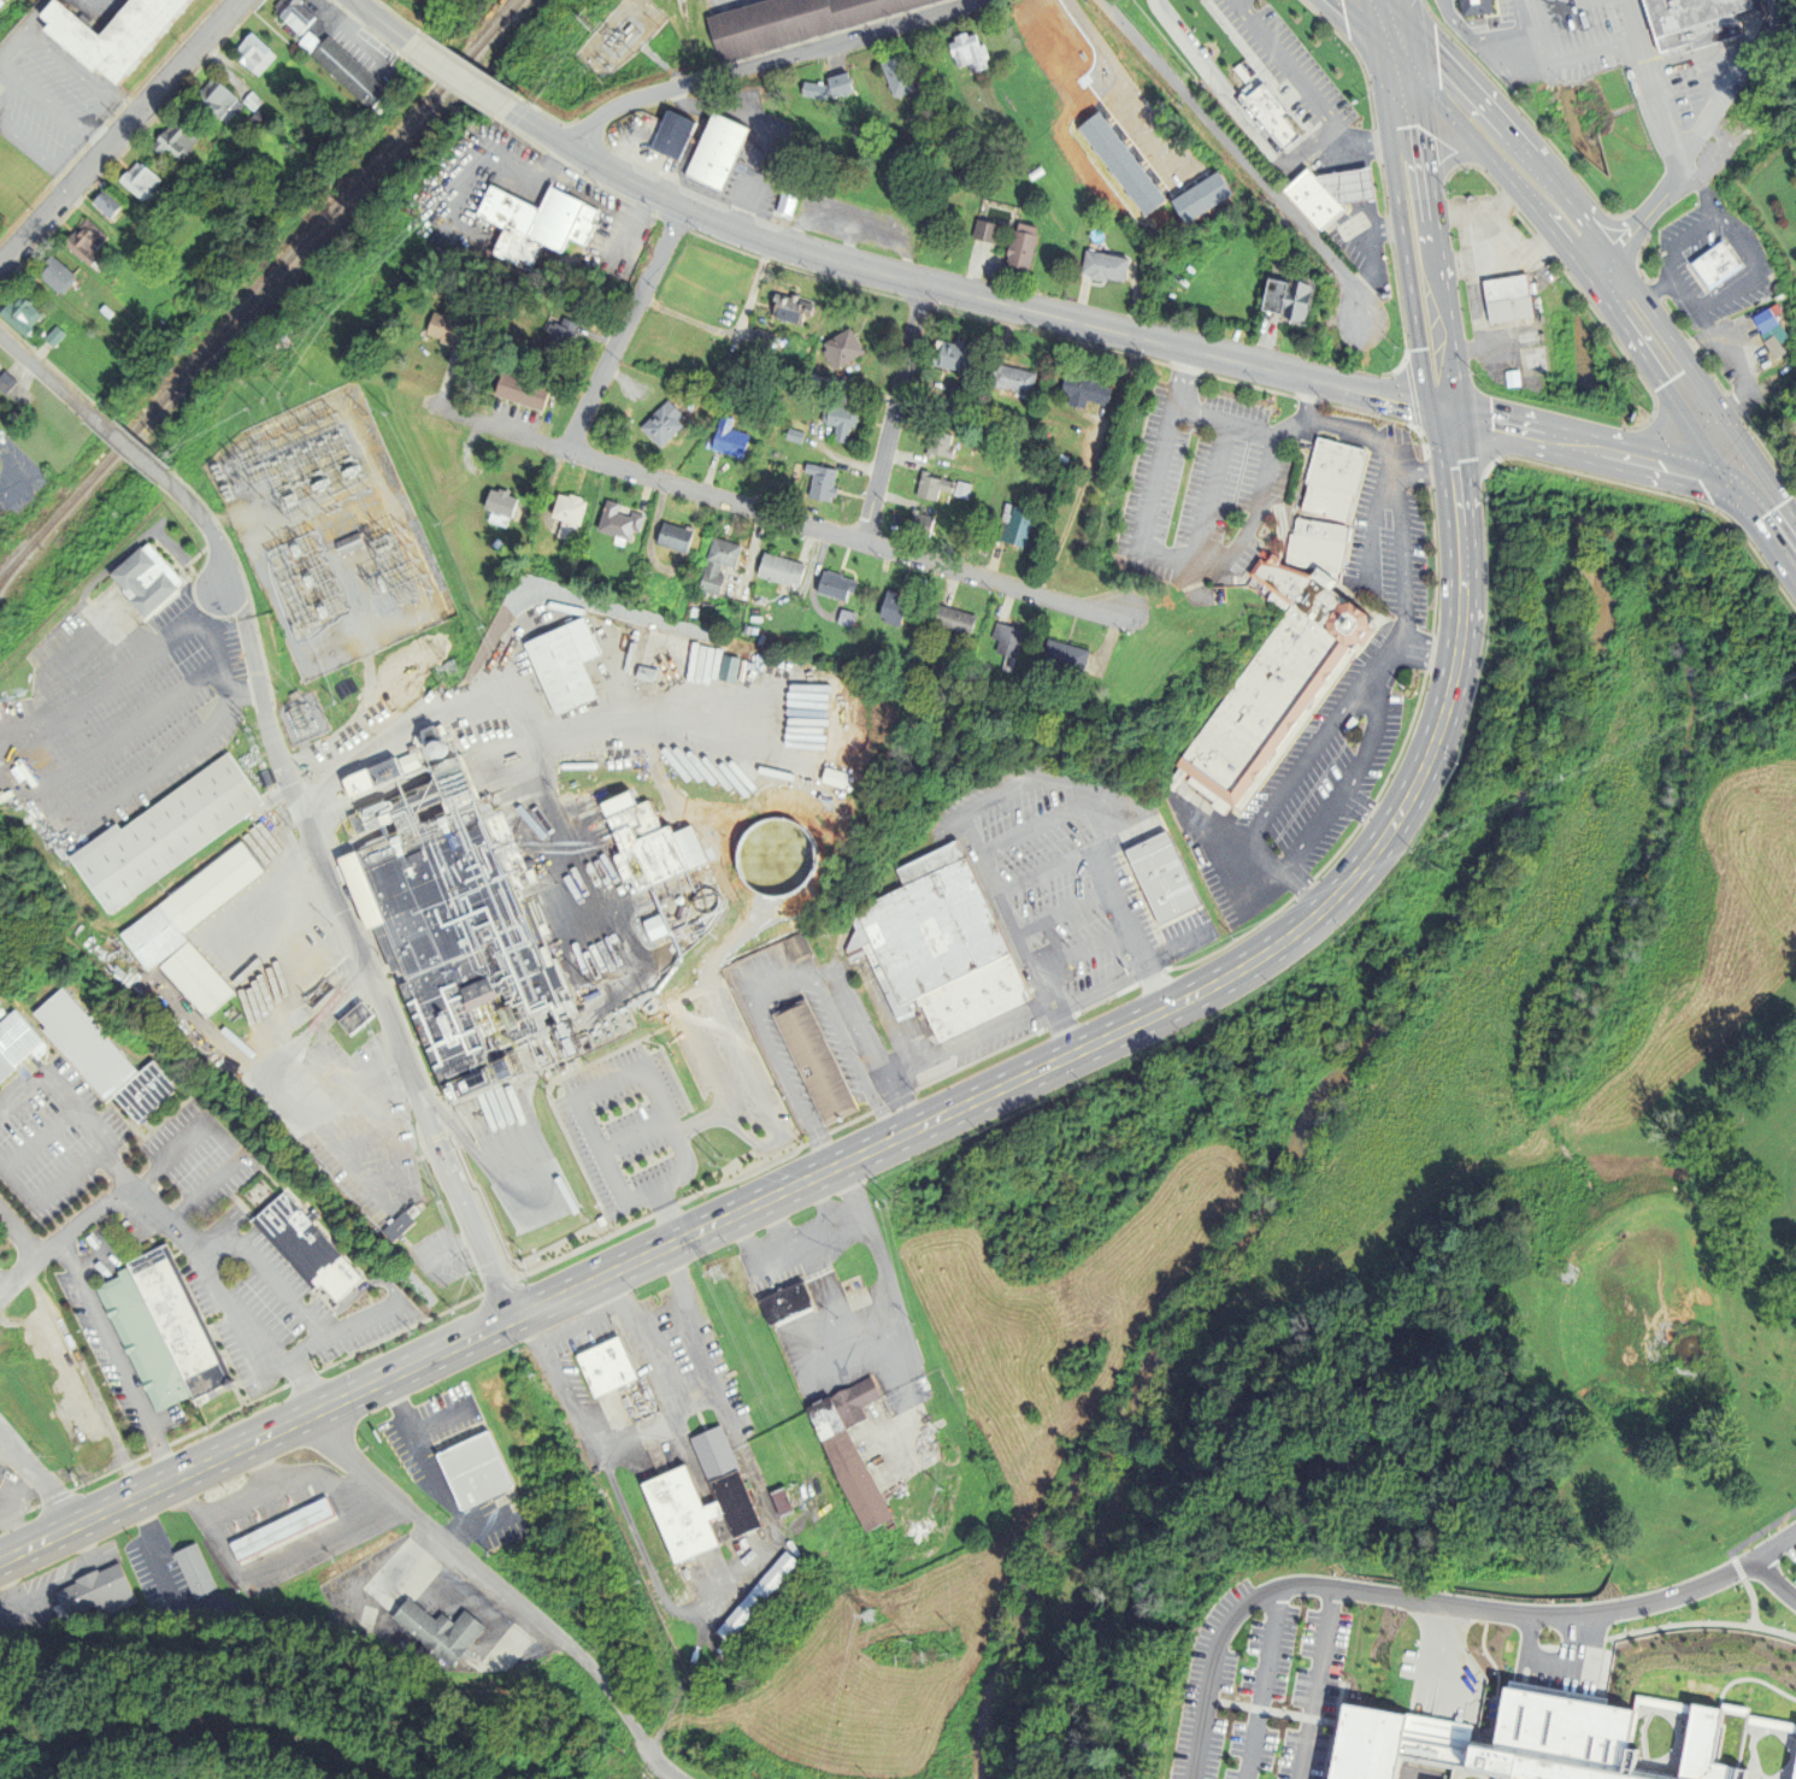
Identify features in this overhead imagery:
building: (1477, 7)
road: (1560, 8)
building: (299, 13)
road: (36, 14)
road: (1361, 14)
road: (1378, 14)
road: (1386, 14)
power tower: (587, 16)
road: (384, 22)
building: (790, 23)
building: (1697, 23)
traffic signals: (1389, 29)
road: (1535, 30)
building: (116, 34)
power substation: (618, 36)
road: (1477, 40)
building: (311, 41)
river: (1556, 43)
road: (1589, 48)
building: (258, 53)
building: (960, 53)
parking lot: (1590, 55)
road: (764, 60)
road: (664, 64)
building: (352, 71)
road: (459, 75)
road: (81, 76)
building: (893, 76)
road: (1126, 82)
building: (824, 86)
road: (1306, 87)
building: (1252, 88)
road: (39, 92)
building: (222, 98)
building: (255, 100)
building: (259, 116)
building: (1272, 117)
river: (1574, 123)
road: (119, 132)
building: (667, 134)
building: (214, 137)
building: (178, 140)
road: (27, 141)
road: (1672, 145)
building: (712, 152)
road: (1233, 153)
road: (1358, 158)
road: (591, 159)
building: (1113, 165)
building: (145, 179)
road: (1365, 188)
railway: (367, 189)
road: (1703, 189)
building: (1193, 198)
building: (1329, 198)
gas station: (1329, 198)
building: (785, 200)
building: (111, 202)
building: (101, 204)
road: (1436, 218)
road: (1378, 223)
road: (1402, 223)
building: (529, 225)
building: (981, 231)
road: (1735, 237)
building: (89, 241)
river: (1586, 242)
road: (1584, 246)
building: (1017, 253)
building: (1712, 264)
building: (1100, 266)
building: (59, 273)
road: (1680, 288)
railway: (263, 289)
road: (1650, 293)
building: (1266, 296)
building: (1509, 300)
road: (993, 301)
building: (1289, 304)
building: (785, 307)
building: (22, 313)
building: (81, 319)
building: (1762, 319)
building: (122, 322)
road: (622, 328)
building: (443, 331)
building: (57, 336)
building: (552, 338)
building: (758, 340)
building: (836, 346)
building: (1771, 347)
building: (946, 355)
river: (1588, 360)
building: (0, 366)
road: (41, 378)
road: (1182, 378)
building: (1513, 379)
building: (7, 381)
building: (1007, 381)
building: (817, 383)
building: (516, 391)
building: (952, 391)
building: (1079, 391)
road: (1378, 396)
road: (1306, 399)
road: (889, 413)
traffic signals: (1445, 413)
building: (12, 414)
building: (835, 423)
building: (658, 424)
road: (1330, 425)
road: (1515, 430)
building: (789, 436)
building: (724, 438)
road: (1449, 442)
road: (117, 446)
building: (934, 446)
river: (1589, 447)
building: (1330, 466)
road: (1667, 467)
road: (1423, 472)
road: (13, 475)
building: (817, 482)
building: (925, 487)
traffic signals: (1750, 488)
road: (1209, 489)
building: (958, 490)
building: (1323, 502)
building: (495, 503)
road: (771, 514)
building: (564, 517)
road: (1773, 518)
building: (613, 523)
road: (199, 524)
building: (913, 524)
road: (1367, 525)
building: (1007, 526)
power substation: (324, 532)
road: (1143, 534)
building: (670, 538)
building: (348, 542)
building: (1314, 546)
road: (1459, 546)
building: (712, 566)
railway: (12, 567)
building: (776, 570)
road: (1398, 573)
building: (146, 578)
building: (830, 587)
building: (887, 608)
building: (948, 619)
building: (1001, 637)
road: (1424, 648)
building: (1059, 655)
road: (218, 662)
building: (559, 665)
power tower: (447, 672)
road: (113, 677)
building: (1273, 685)
power substation: (304, 720)
road: (1301, 765)
road: (1347, 783)
road: (999, 794)
building: (781, 803)
road: (1364, 811)
road: (1391, 824)
road: (1031, 827)
building: (158, 831)
building: (646, 846)
building: (925, 864)
road: (1271, 866)
road: (1049, 867)
road: (1103, 877)
building: (1156, 877)
building: (731, 882)
building: (700, 900)
building: (188, 905)
building: (670, 907)
road: (1061, 912)
building: (457, 927)
building: (650, 927)
building: (928, 930)
road: (1013, 935)
building: (796, 947)
road: (1180, 948)
road: (1079, 952)
road: (357, 954)
building: (594, 964)
power tower: (576, 973)
building: (192, 980)
crop: (1720, 980)
road: (779, 985)
road: (1099, 990)
building: (968, 995)
road: (720, 1011)
building: (13, 1038)
road: (965, 1041)
building: (80, 1044)
road: (872, 1048)
road: (1067, 1056)
building: (813, 1061)
building: (2, 1066)
road: (637, 1068)
building: (142, 1090)
parking lot: (670, 1103)
road: (699, 1123)
river: (1301, 1135)
road: (632, 1136)
road: (222, 1138)
road: (34, 1139)
road: (858, 1155)
road: (47, 1194)
road: (658, 1197)
road: (145, 1198)
road: (670, 1223)
road: (61, 1235)
road: (19, 1236)
building: (304, 1245)
road: (65, 1259)
road: (90, 1260)
road: (263, 1271)
power tower: (713, 1277)
road: (2, 1288)
road: (355, 1291)
building: (784, 1301)
building: (170, 1323)
road: (342, 1330)
building: (139, 1342)
road: (114, 1355)
road: (408, 1366)
building: (605, 1366)
road: (296, 1374)
road: (440, 1419)
parking lot: (432, 1428)
road: (8, 1445)
building: (849, 1445)
road: (161, 1457)
road: (425, 1460)
building: (477, 1471)
crop: (1023, 1474)
road: (39, 1485)
building: (666, 1491)
building: (779, 1501)
road: (487, 1521)
building: (285, 1528)
road: (1756, 1537)
parking lot: (1782, 1544)
building: (198, 1571)
road: (1776, 1580)
road: (501, 1589)
building: (99, 1592)
building: (755, 1596)
road: (1753, 1597)
road: (1432, 1602)
power tower: (864, 1621)
road: (1672, 1627)
building: (442, 1632)
building: (1384, 1634)
building: (1300, 1645)
road: (1498, 1675)
parking lot: (1265, 1680)
road: (1751, 1680)
road: (1262, 1683)
road: (1317, 1683)
road: (1271, 1712)
road: (202, 1728)
building: (1227, 1736)
building: (1406, 1736)
building: (1707, 1748)
road: (654, 1773)
building: (1398, 1778)

